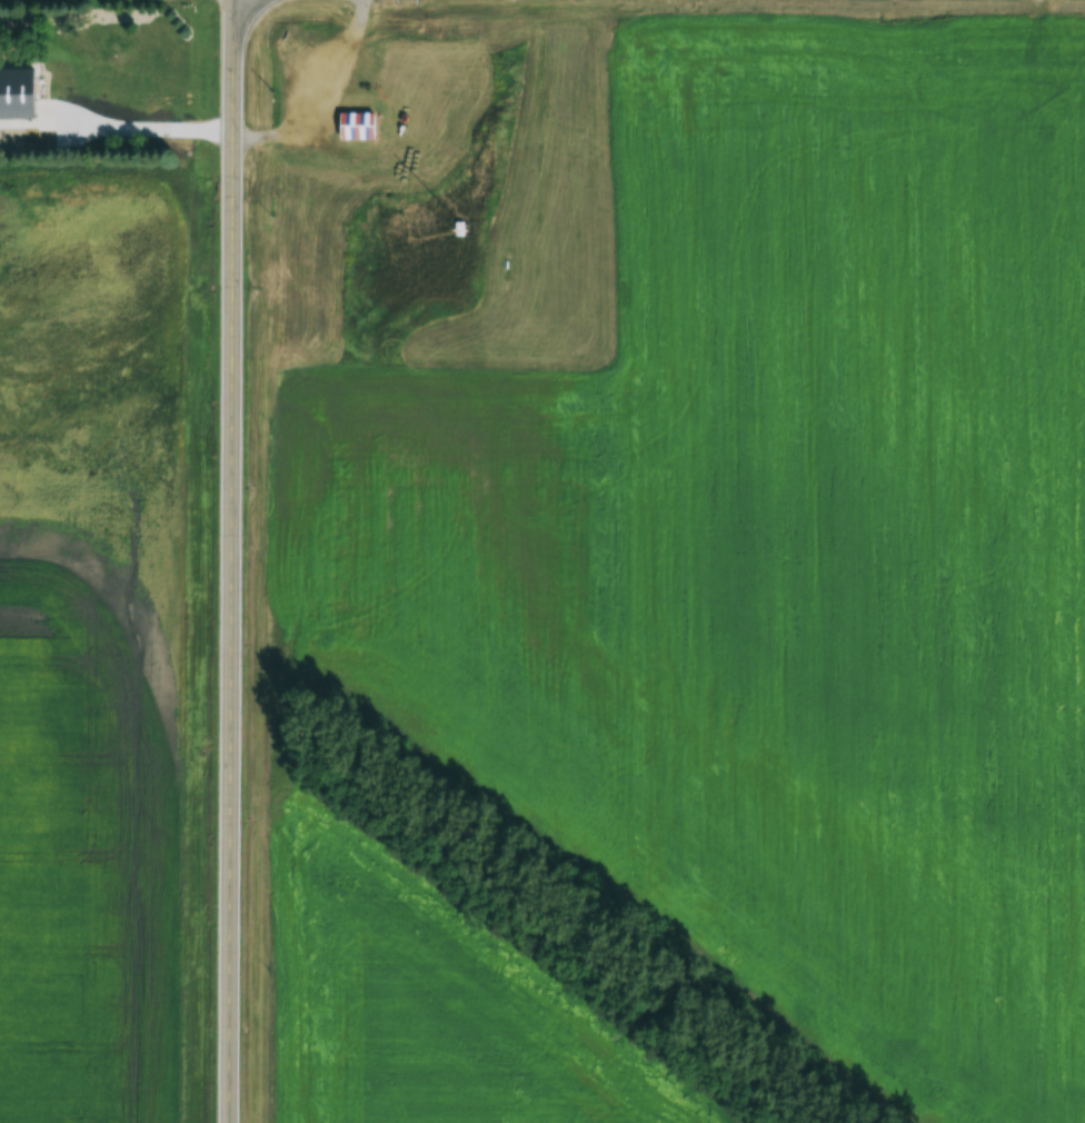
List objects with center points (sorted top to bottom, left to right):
building: (19, 79)
building: (354, 125)
road: (230, 560)

